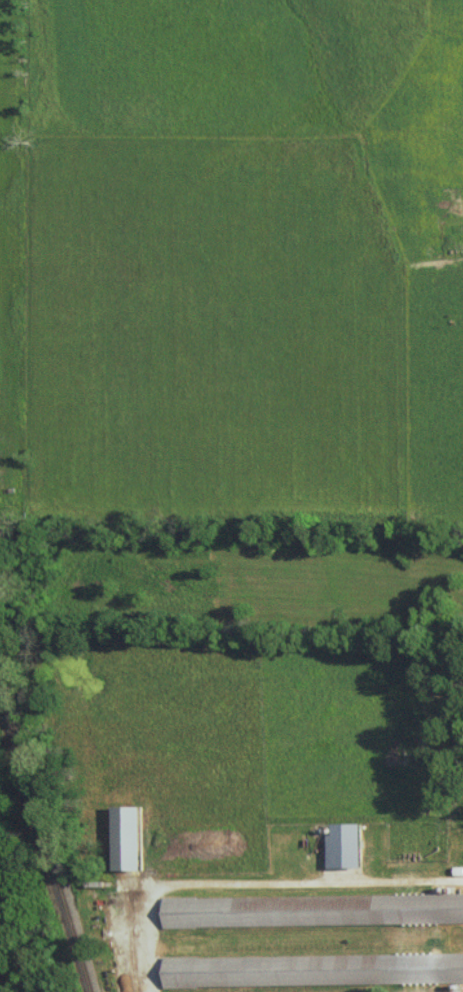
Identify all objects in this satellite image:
railway: (47, 831)
building: (126, 838)
building: (344, 846)
road: (253, 884)
building: (311, 910)
building: (311, 970)

